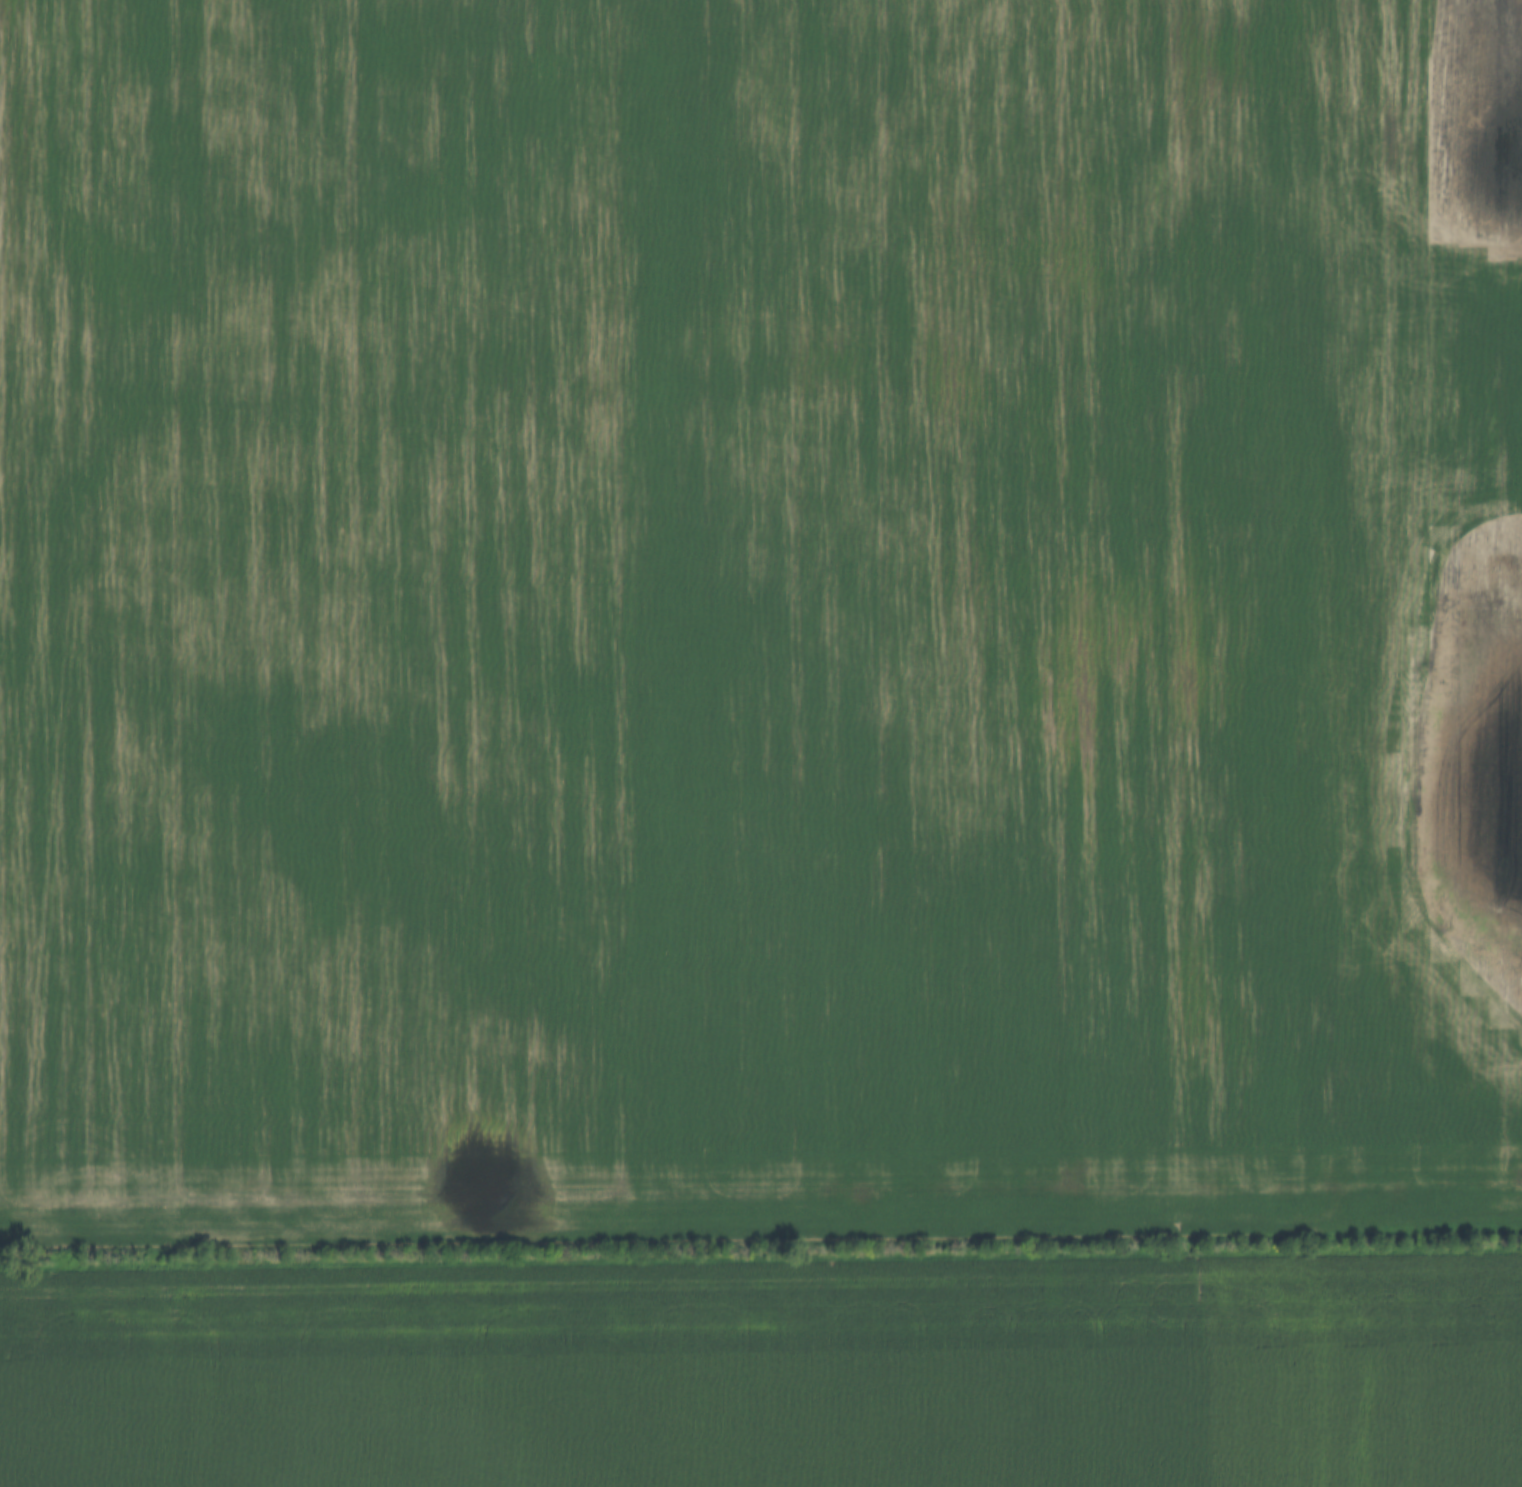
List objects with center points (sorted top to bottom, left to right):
road: (246, 1243)

